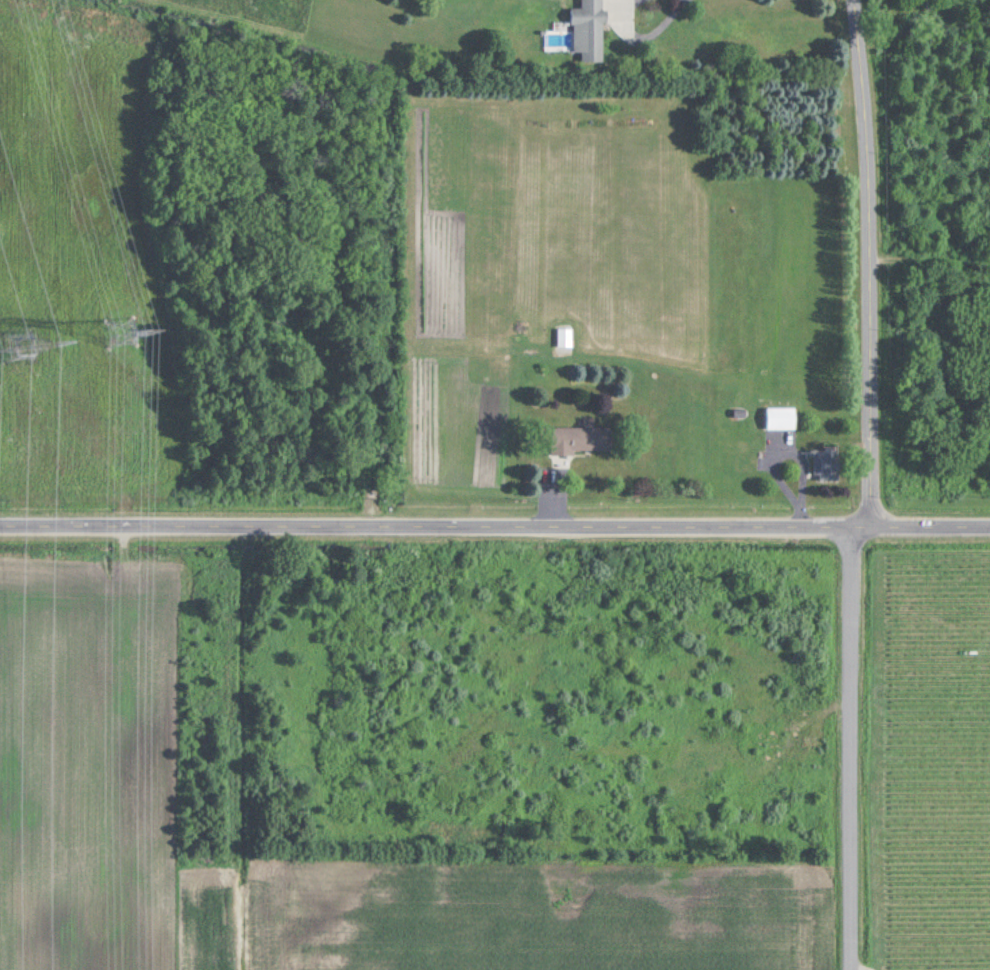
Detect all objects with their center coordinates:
building: (588, 31)
power tower: (121, 329)
power tower: (17, 344)
building: (782, 417)
building: (581, 439)
building: (751, 455)
building: (827, 466)
road: (872, 487)
road: (494, 515)

